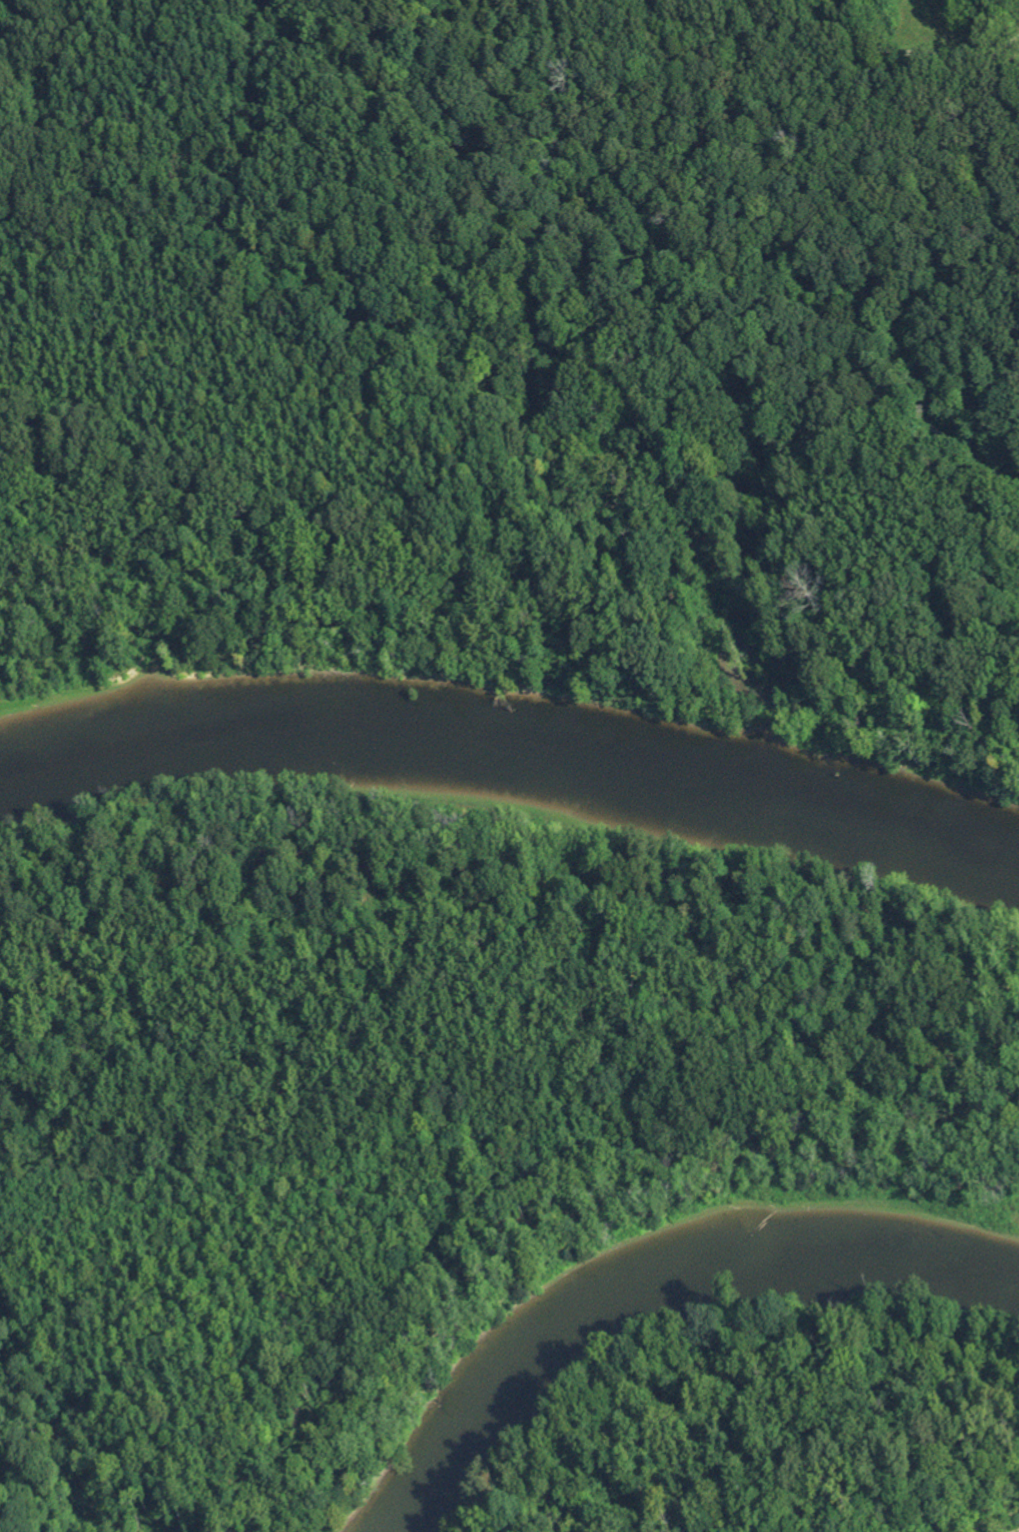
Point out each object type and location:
road: (691, 66)
road: (642, 270)
river: (512, 757)
river: (646, 1278)

